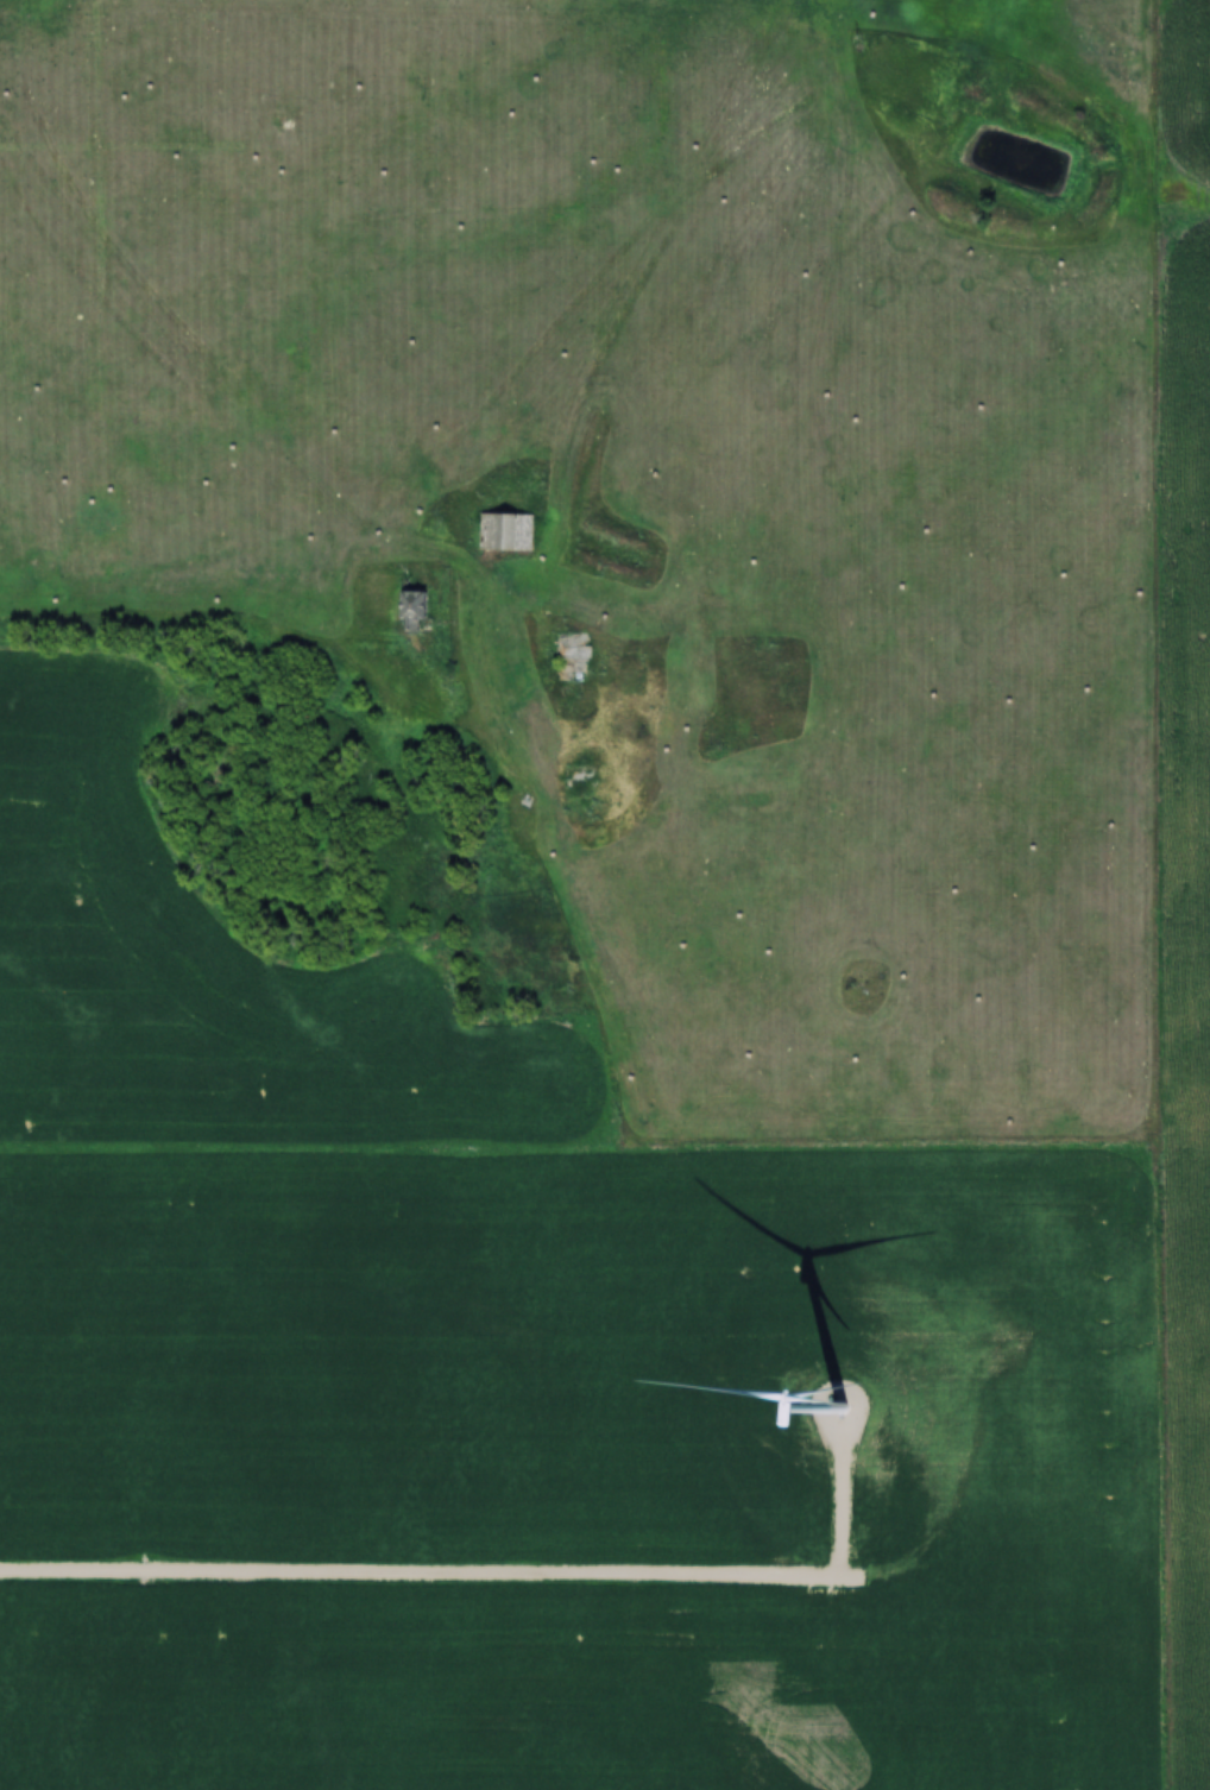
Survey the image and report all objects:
wind turbine: (843, 1414)
road: (415, 1570)

